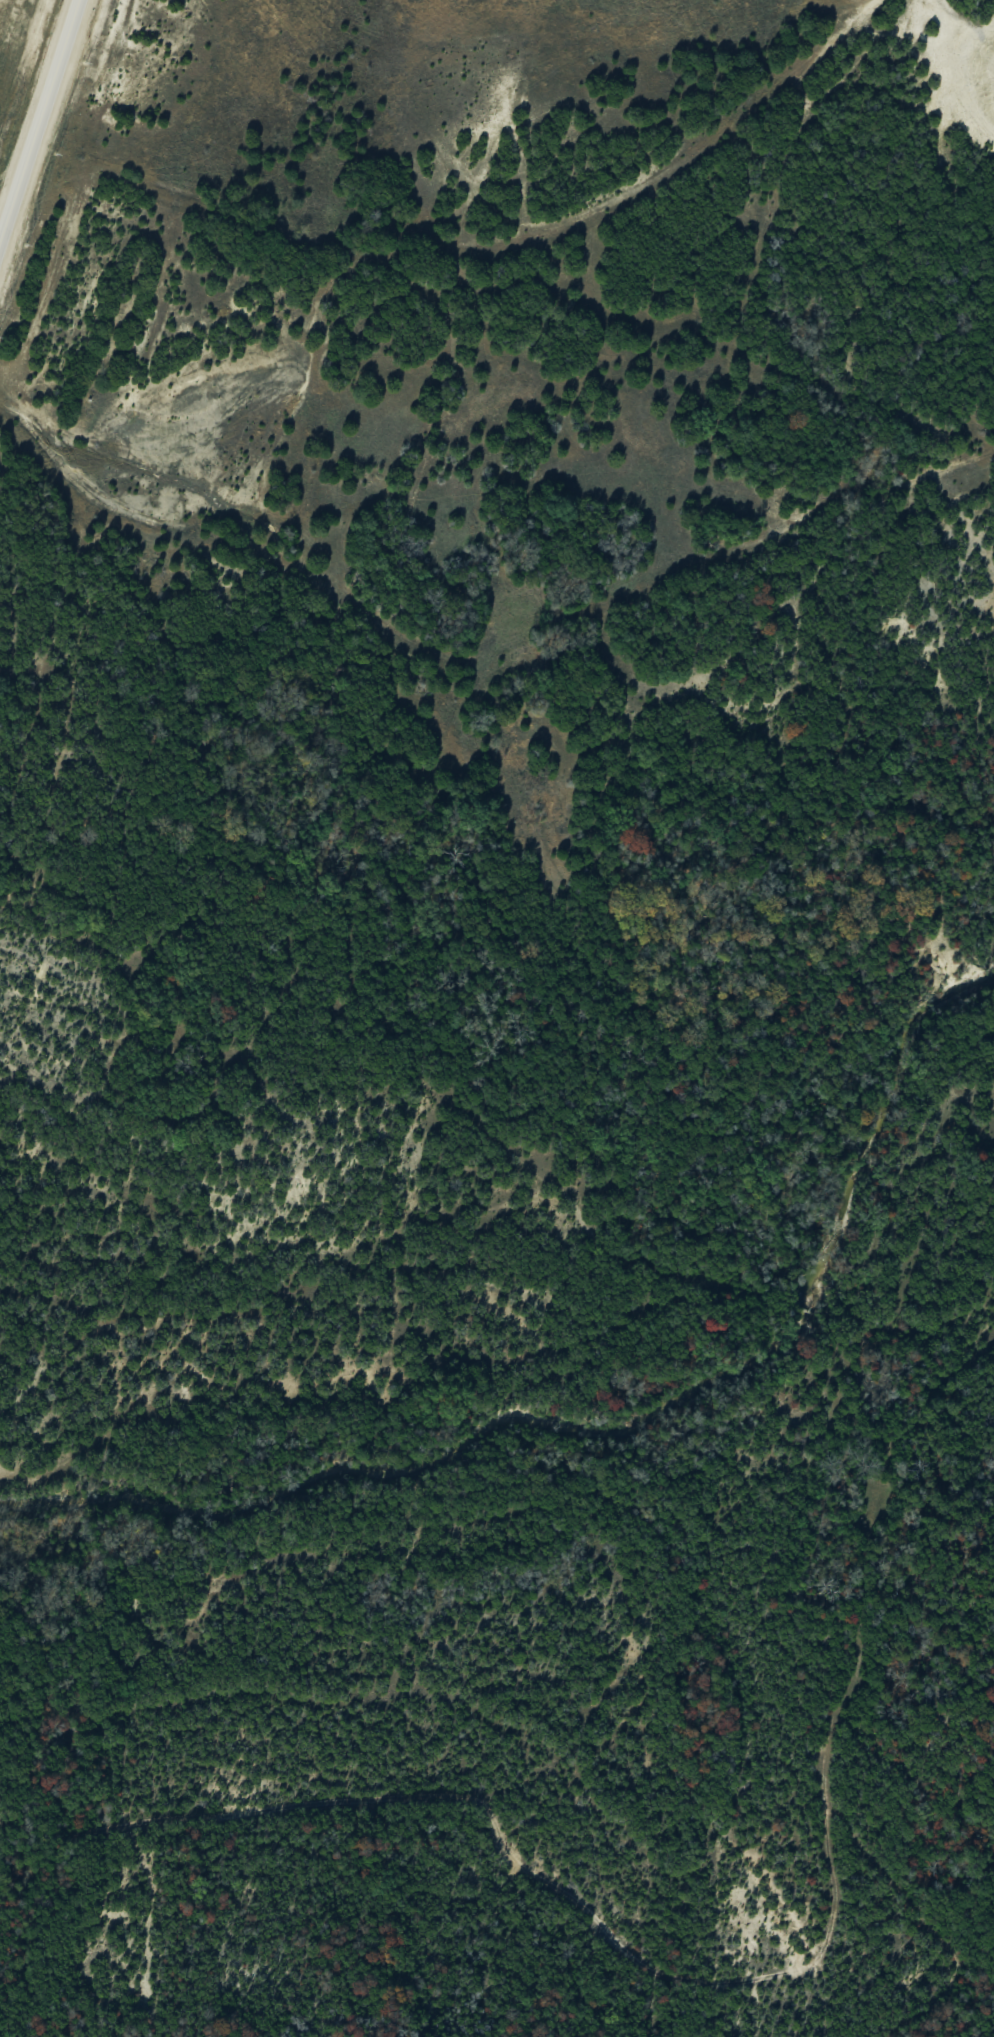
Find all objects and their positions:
road: (38, 119)

